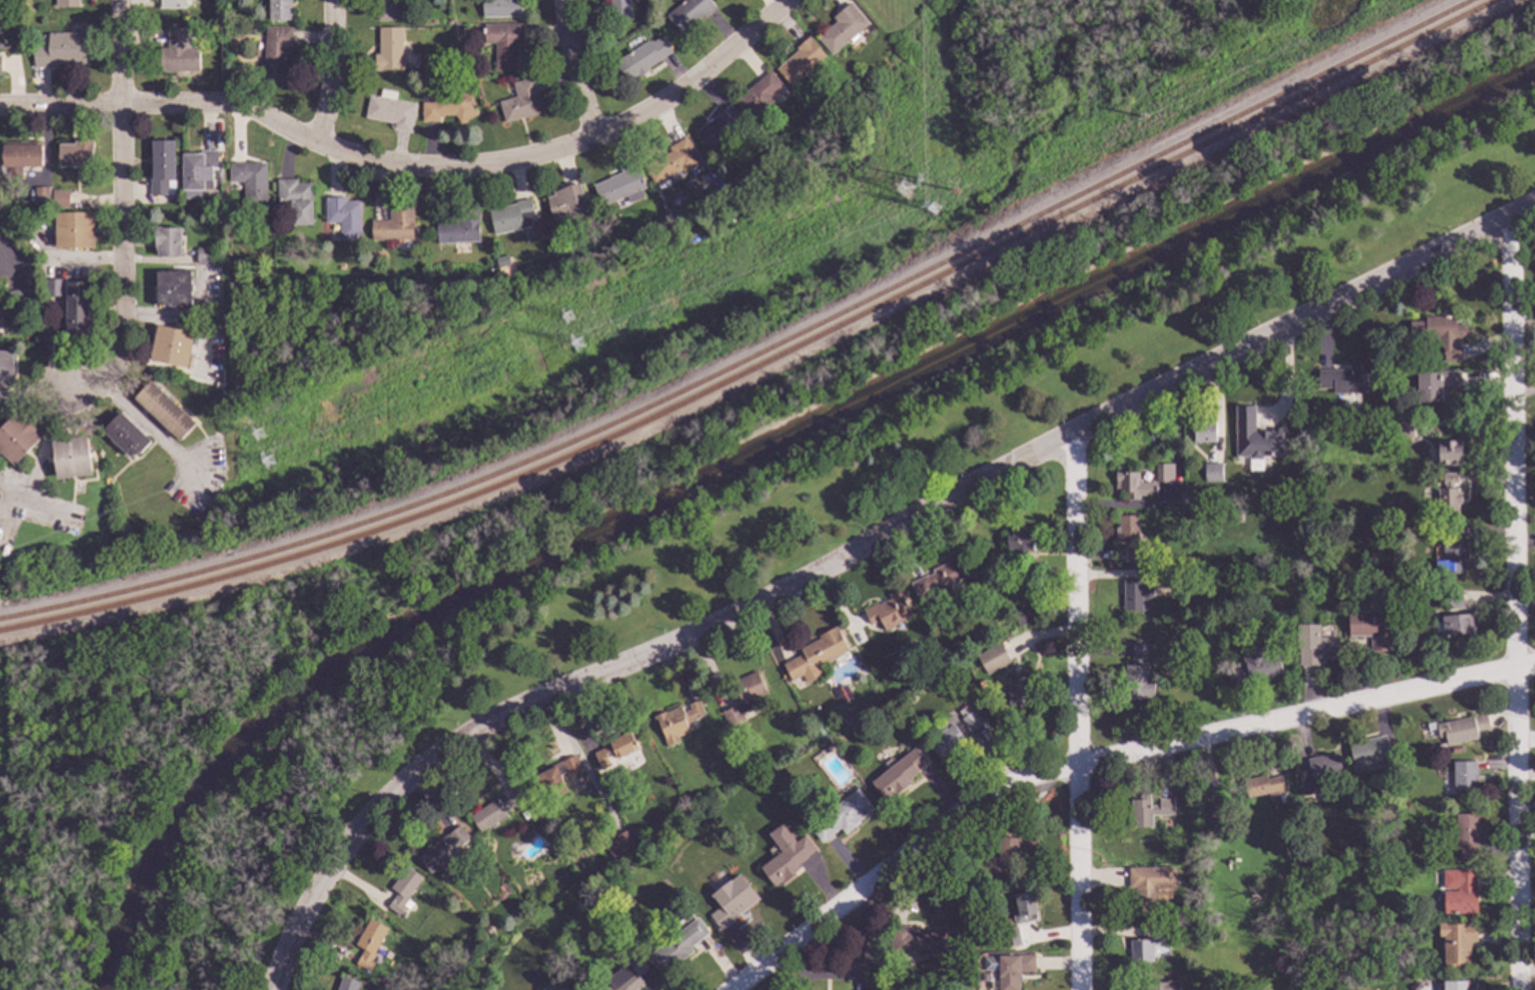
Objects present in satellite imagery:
building: (66, 3)
building: (171, 4)
building: (499, 8)
building: (279, 10)
building: (387, 10)
building: (619, 10)
building: (687, 14)
building: (840, 29)
building: (503, 44)
building: (389, 49)
building: (60, 50)
building: (275, 52)
building: (176, 54)
building: (639, 59)
building: (799, 62)
road: (334, 71)
road: (573, 71)
building: (757, 96)
building: (521, 101)
building: (446, 108)
building: (389, 111)
power tower: (1144, 117)
building: (717, 127)
building: (75, 154)
building: (21, 156)
building: (671, 161)
road: (410, 165)
building: (162, 169)
building: (197, 169)
power tower: (922, 181)
building: (249, 182)
building: (620, 186)
power tower: (906, 192)
power tower: (955, 192)
building: (41, 195)
building: (59, 199)
building: (295, 200)
building: (566, 202)
road: (123, 212)
power tower: (934, 212)
building: (343, 216)
building: (176, 217)
building: (512, 217)
building: (394, 225)
building: (458, 228)
building: (74, 230)
park: (732, 240)
building: (167, 241)
building: (205, 256)
building: (501, 262)
building: (53, 286)
building: (172, 288)
building: (16, 297)
building: (79, 308)
road: (1304, 318)
power tower: (569, 320)
building: (1439, 335)
building: (172, 346)
power tower: (579, 347)
railway: (756, 357)
building: (1386, 360)
railway: (768, 364)
building: (6, 369)
building: (1344, 380)
building: (1435, 386)
building: (164, 411)
road: (151, 429)
building: (1403, 430)
building: (1203, 432)
building: (125, 436)
power tower: (259, 438)
building: (1255, 438)
building: (16, 439)
building: (1447, 453)
building: (71, 456)
power tower: (269, 464)
road: (38, 468)
building: (1211, 472)
building: (1163, 473)
building: (1132, 486)
building: (1447, 496)
building: (1235, 518)
building: (1453, 534)
park: (662, 536)
building: (1128, 536)
building: (1018, 542)
building: (1450, 560)
building: (1154, 574)
building: (941, 578)
building: (1135, 596)
building: (1452, 602)
road: (1513, 604)
building: (1299, 610)
building: (887, 612)
building: (1018, 617)
building: (1278, 622)
building: (1005, 625)
building: (1455, 625)
building: (1368, 629)
building: (1314, 647)
building: (815, 654)
building: (992, 659)
road: (625, 660)
building: (1256, 665)
building: (1020, 670)
building: (1136, 677)
building: (1017, 692)
building: (743, 697)
road: (1076, 709)
building: (677, 719)
building: (968, 721)
building: (1461, 729)
building: (944, 742)
building: (615, 749)
building: (1453, 751)
building: (1367, 754)
road: (1099, 756)
building: (1318, 773)
building: (897, 775)
building: (1461, 776)
building: (555, 778)
building: (1261, 786)
building: (495, 808)
building: (1147, 812)
building: (525, 814)
building: (1218, 814)
building: (840, 816)
building: (1465, 838)
building: (617, 845)
building: (1367, 845)
building: (1009, 849)
building: (443, 850)
building: (784, 855)
building: (1148, 885)
building: (402, 889)
building: (1458, 892)
building: (731, 906)
building: (1255, 906)
building: (1024, 909)
building: (488, 931)
building: (1208, 934)
building: (1009, 937)
building: (916, 941)
building: (367, 943)
building: (1456, 944)
building: (1147, 945)
building: (675, 947)
building: (1010, 970)
building: (626, 976)
building: (345, 984)
building: (1162, 986)
building: (1454, 986)

